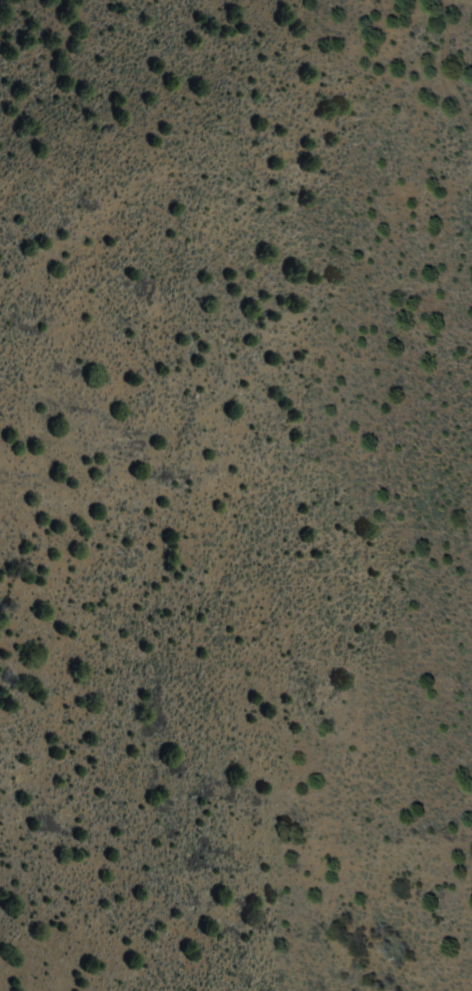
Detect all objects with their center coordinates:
road: (449, 63)

